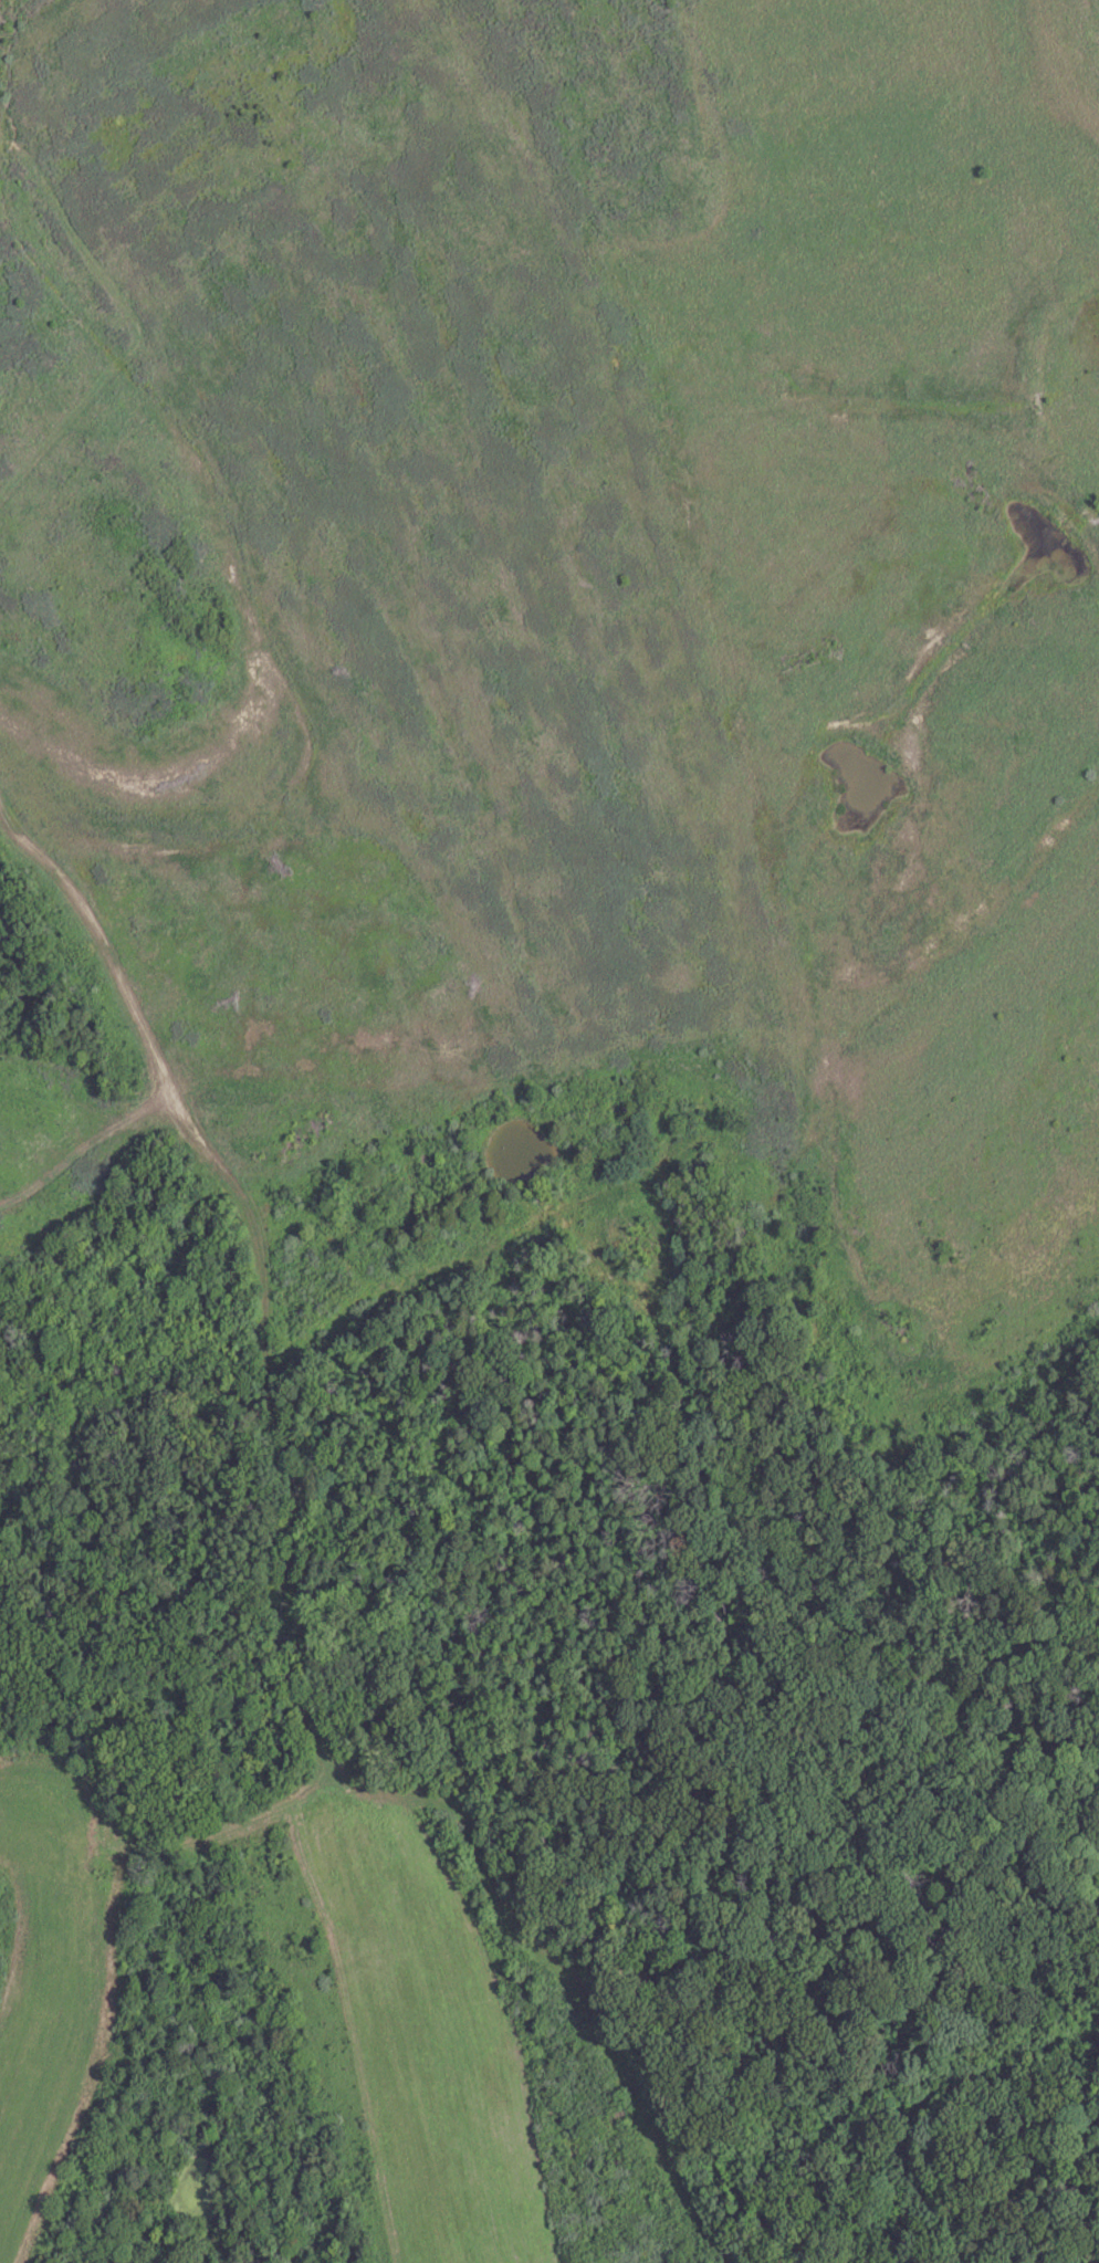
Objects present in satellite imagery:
road: (280, 1447)
road: (558, 1974)

